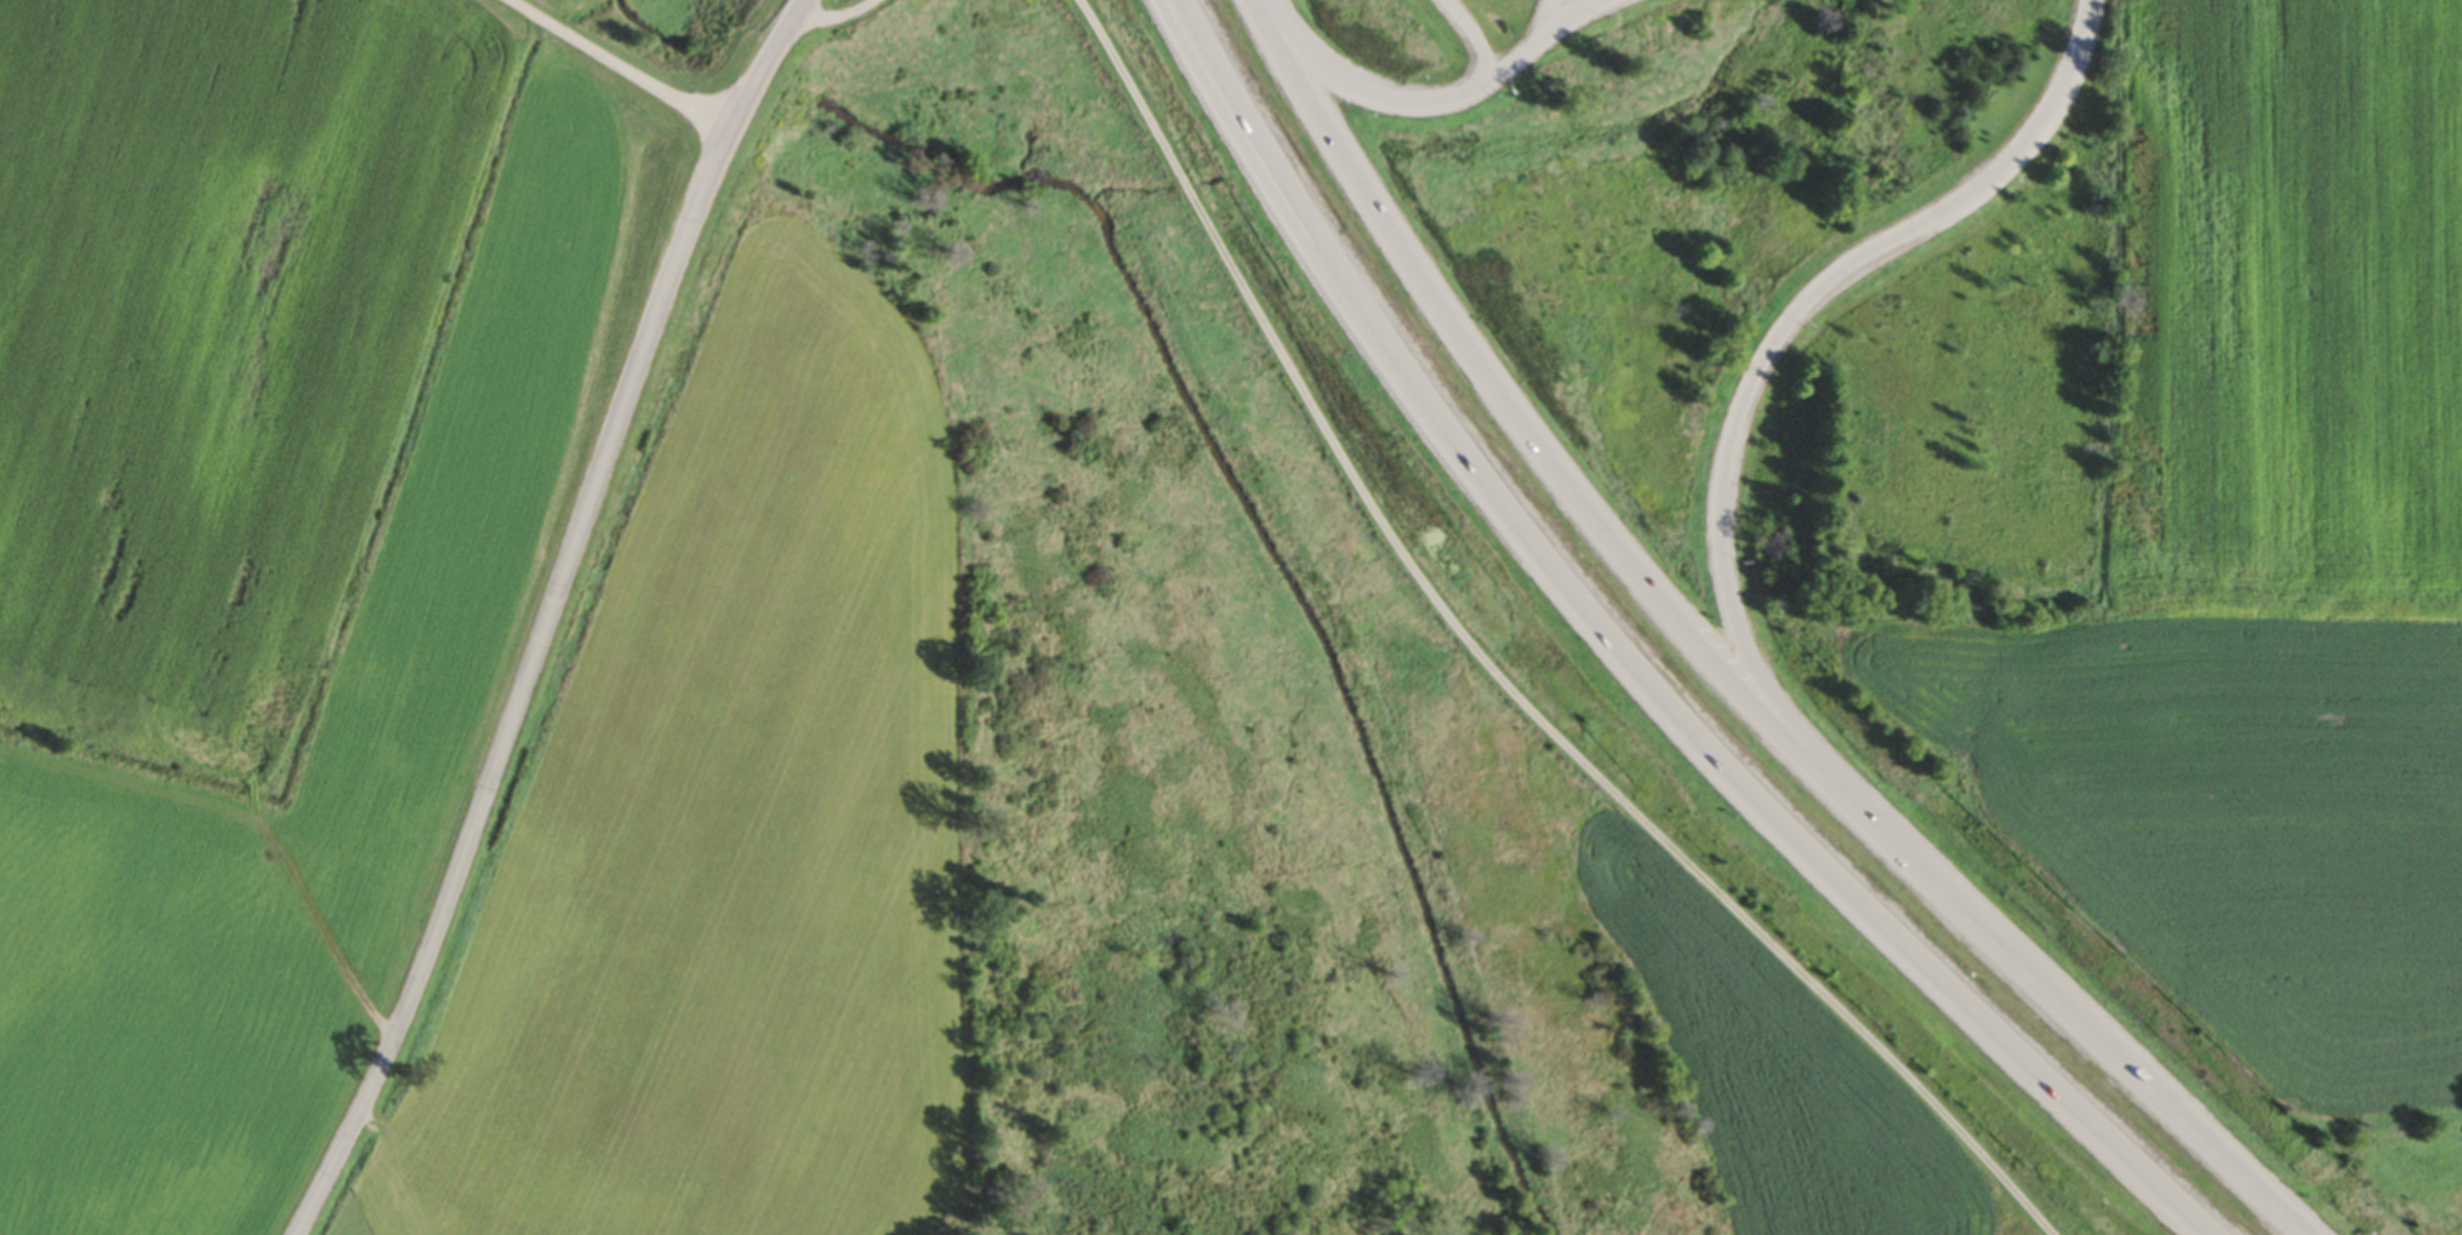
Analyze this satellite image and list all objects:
road: (1579, 13)
parking lot: (1565, 18)
road: (1554, 27)
road: (1480, 39)
road: (1509, 68)
road: (1361, 90)
road: (1286, 183)
road: (1265, 190)
road: (1740, 411)
road: (1478, 469)
road: (1558, 475)
road: (551, 618)
road: (1876, 916)
road: (2116, 1060)
road: (2292, 1230)

